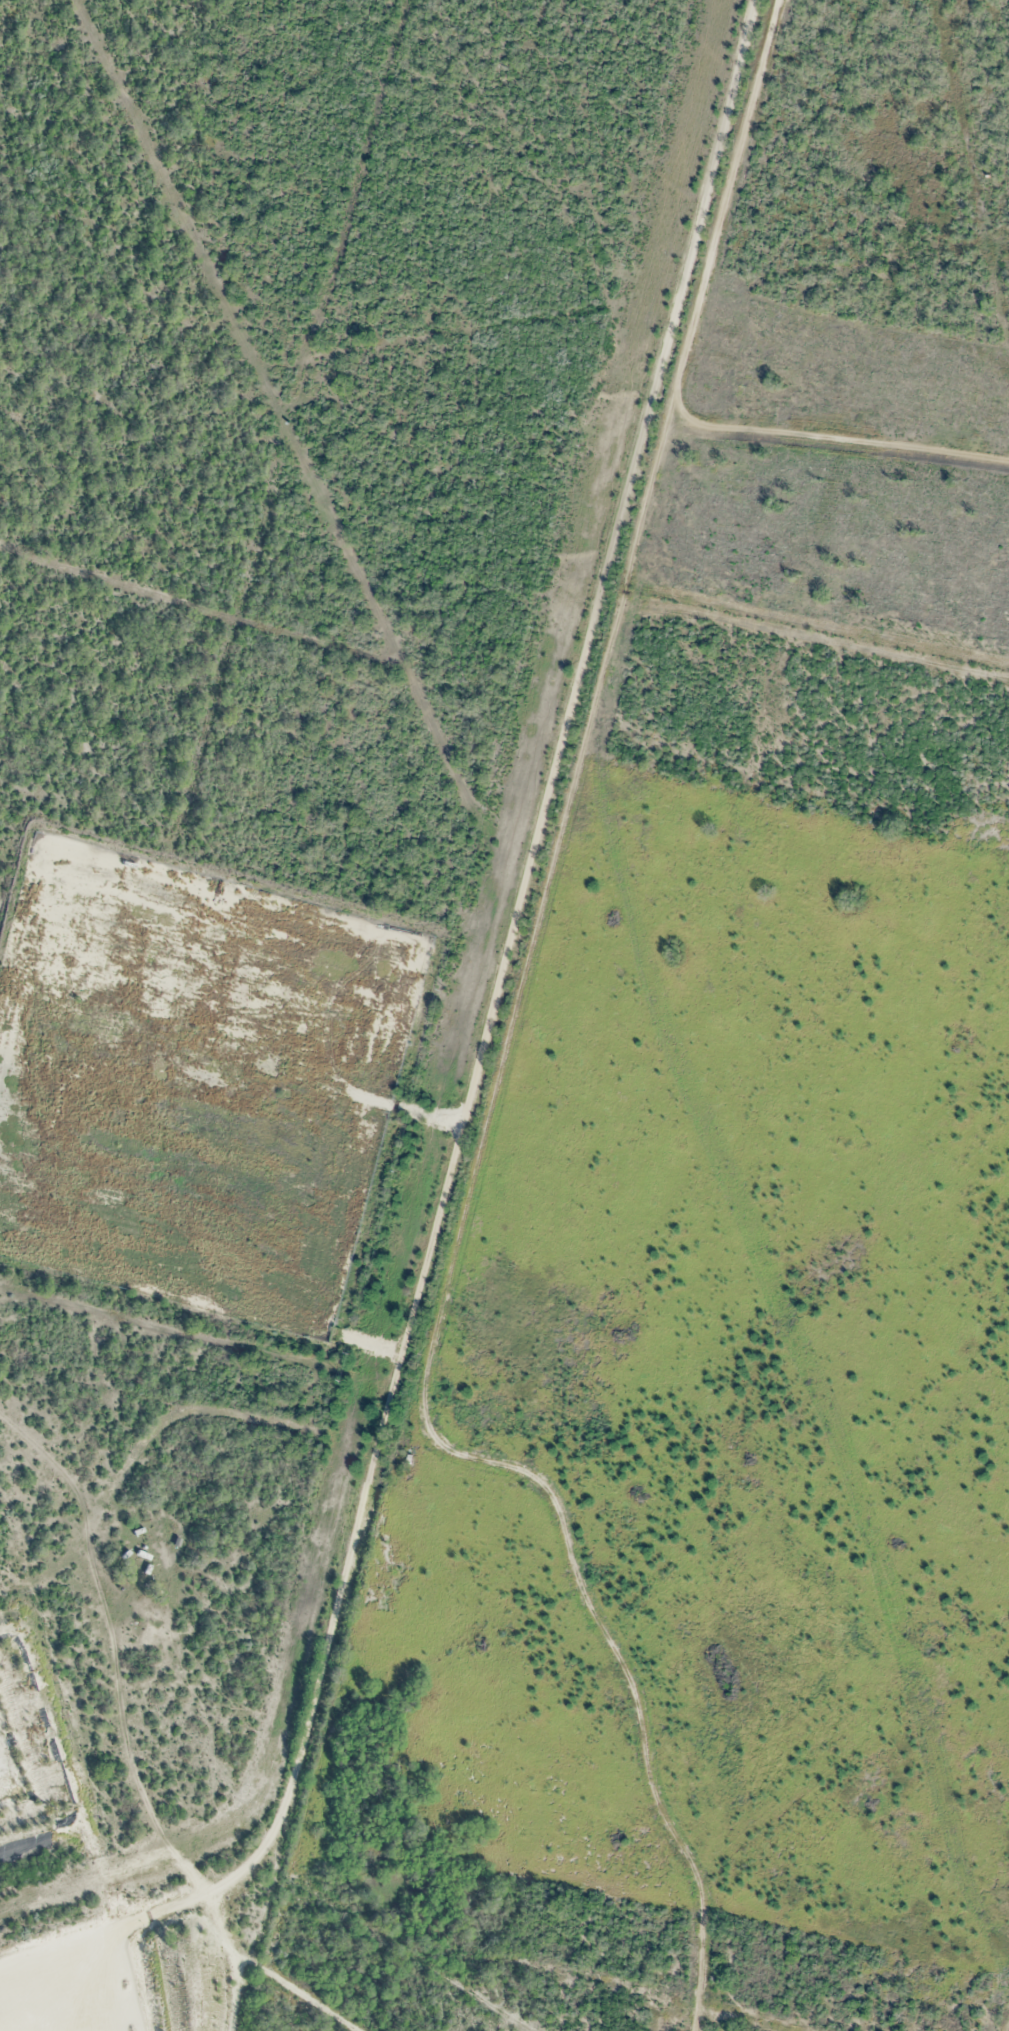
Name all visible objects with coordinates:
road: (475, 1069)
road: (377, 2022)

